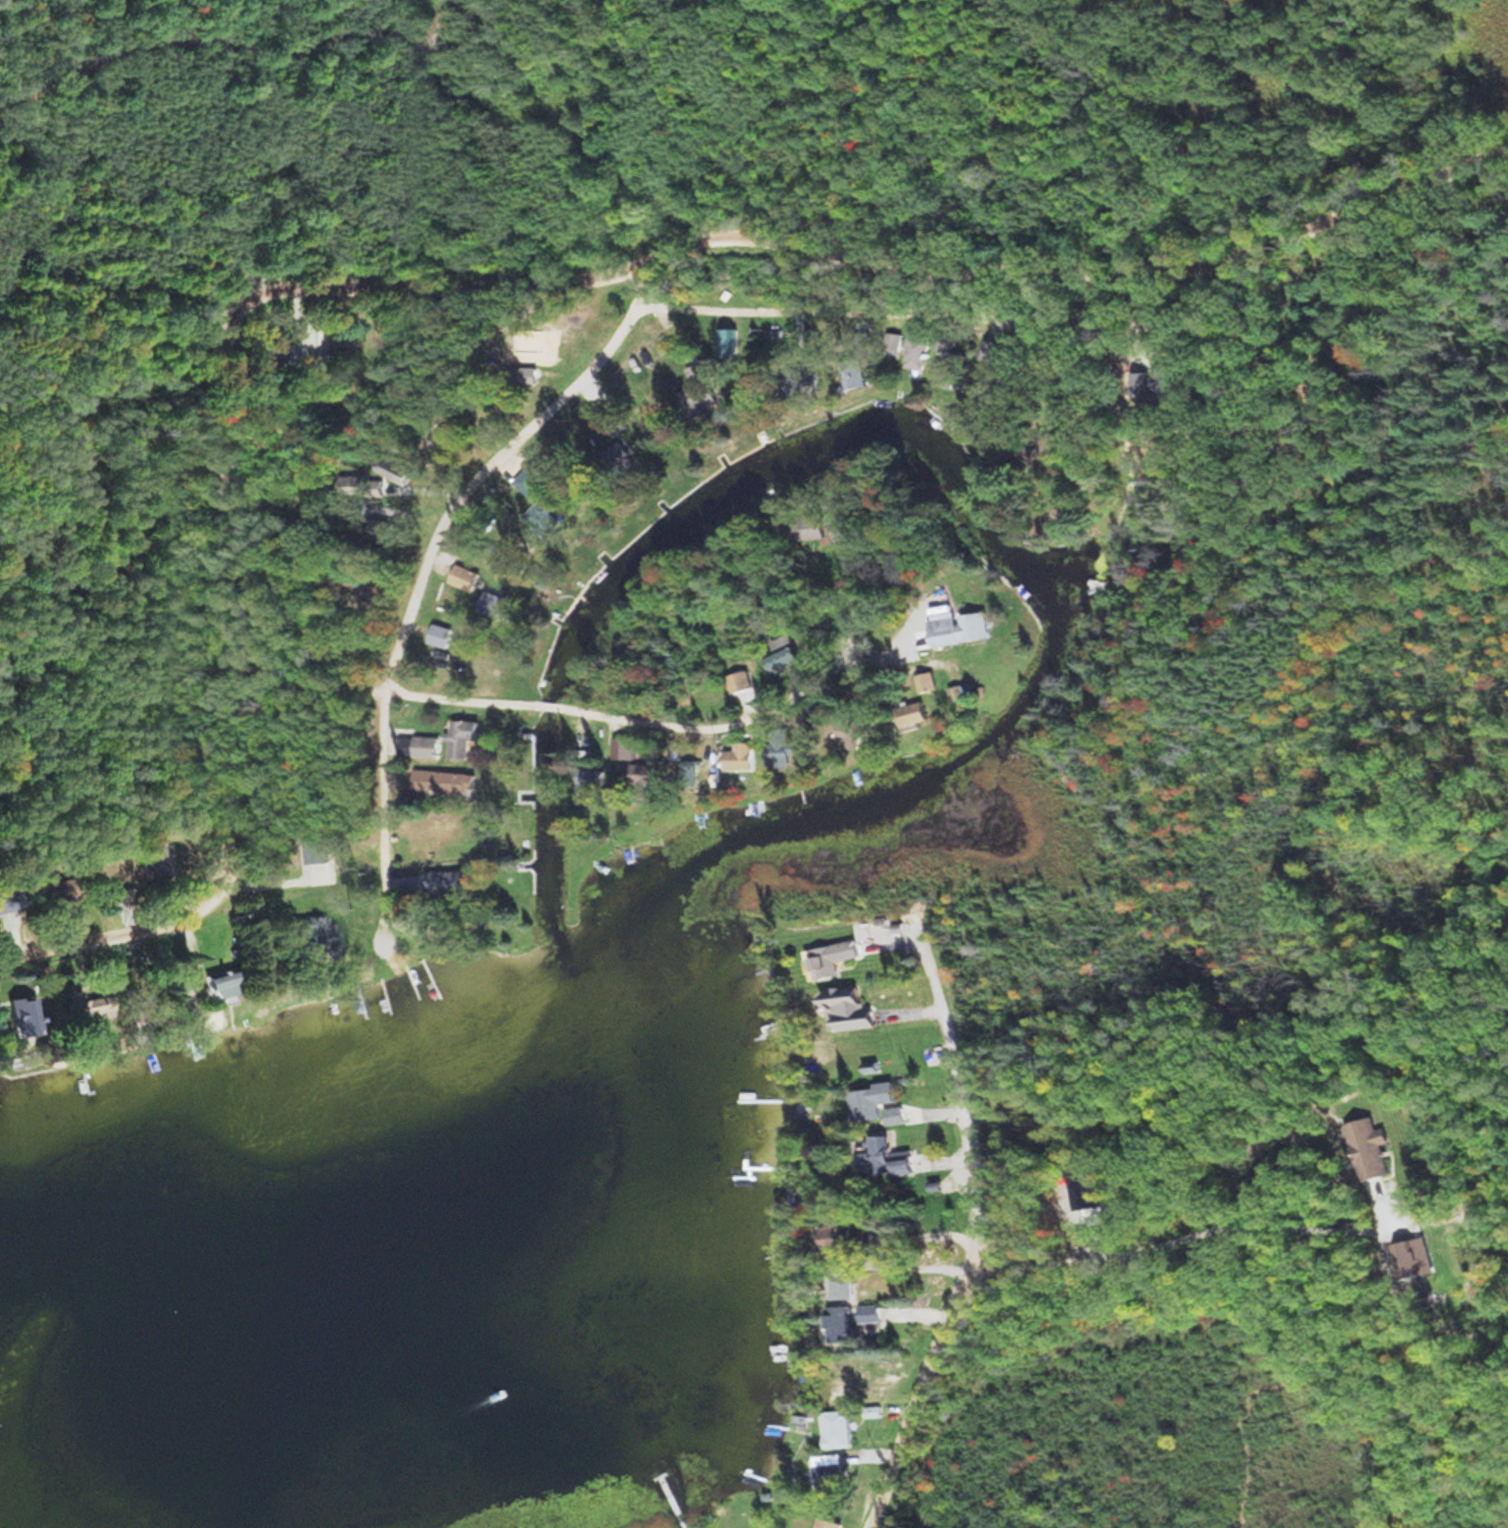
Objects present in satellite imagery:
road: (478, 274)
road: (858, 310)
building: (727, 340)
building: (338, 344)
building: (945, 347)
building: (915, 351)
building: (279, 353)
building: (525, 374)
building: (859, 376)
building: (1140, 381)
building: (1168, 381)
building: (697, 391)
building: (392, 470)
building: (350, 485)
building: (542, 519)
building: (804, 529)
building: (381, 533)
road: (425, 567)
building: (462, 577)
building: (344, 583)
building: (495, 606)
building: (957, 629)
building: (438, 634)
building: (783, 654)
building: (738, 681)
building: (924, 682)
road: (381, 687)
building: (956, 693)
road: (553, 707)
building: (912, 715)
road: (747, 719)
building: (459, 737)
building: (416, 747)
building: (623, 747)
building: (739, 756)
building: (589, 779)
building: (441, 781)
building: (152, 860)
building: (443, 880)
building: (53, 888)
building: (9, 913)
building: (312, 931)
building: (830, 957)
building: (220, 986)
building: (174, 996)
building: (847, 1005)
building: (83, 1008)
building: (868, 1100)
building: (891, 1115)
building: (1368, 1148)
building: (883, 1157)
road: (983, 1222)
road: (1186, 1234)
building: (849, 1235)
building: (1415, 1257)
building: (848, 1287)
building: (872, 1313)
building: (846, 1321)
building: (839, 1428)
building: (830, 1467)
building: (825, 1523)

